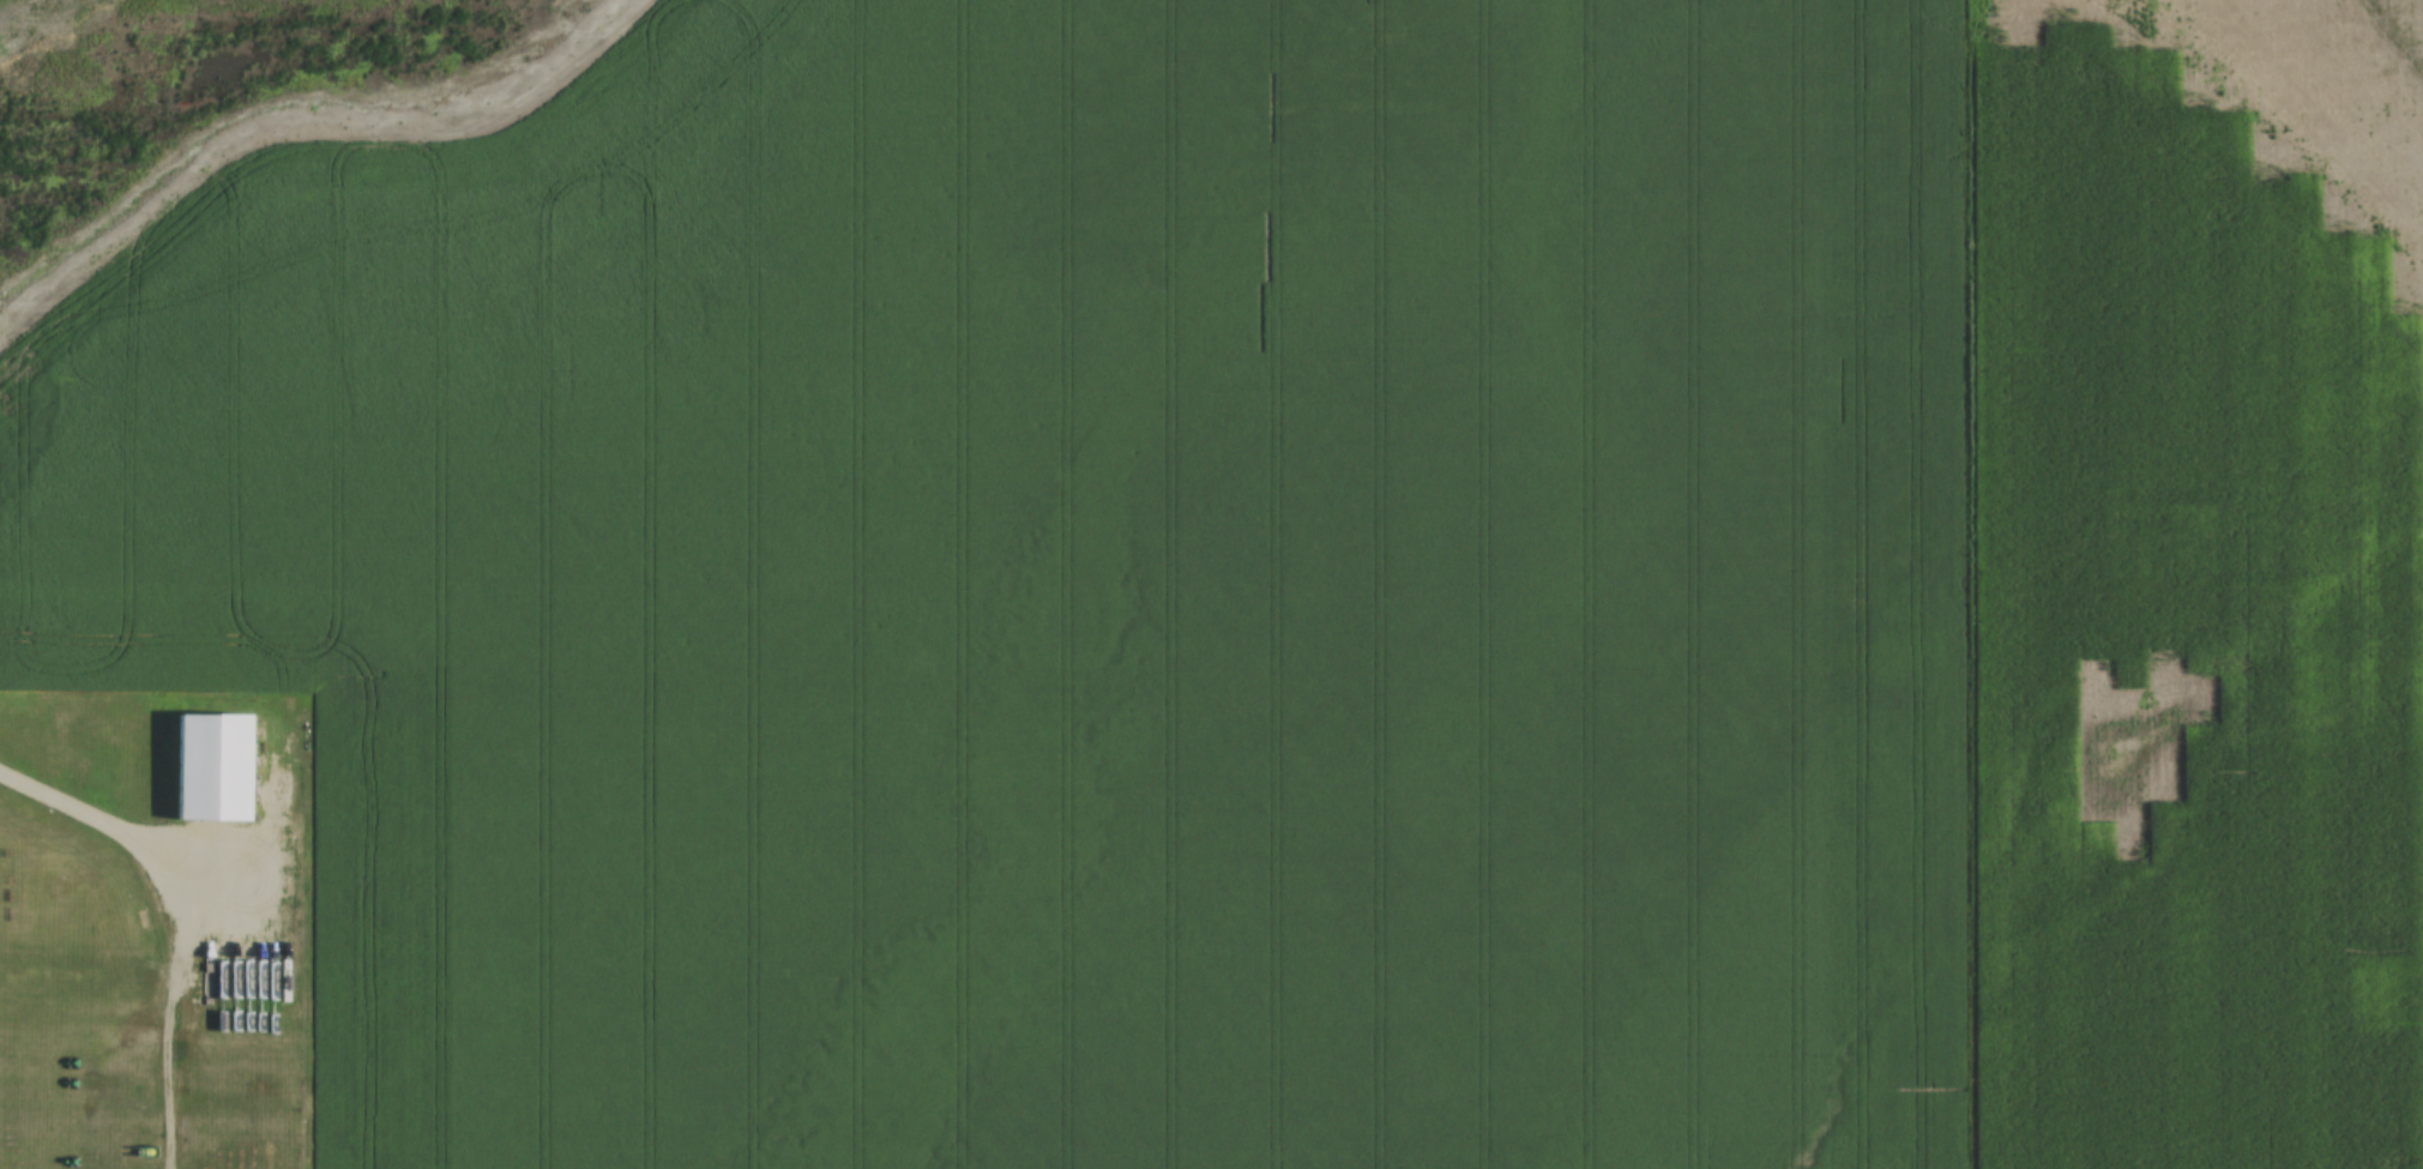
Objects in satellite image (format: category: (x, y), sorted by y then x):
building: (198, 743)

